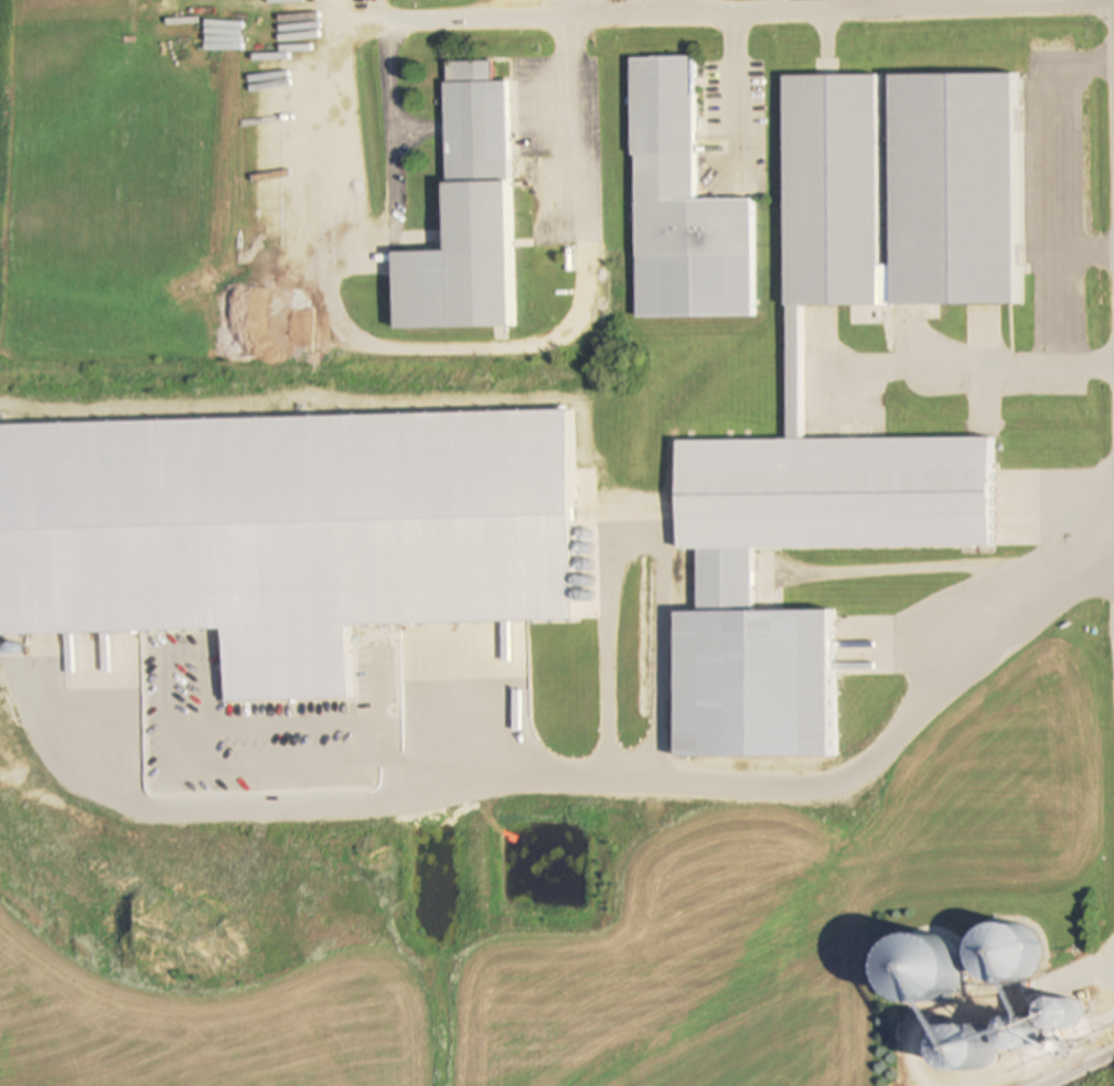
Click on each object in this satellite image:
road: (707, 3)
road: (577, 6)
road: (668, 8)
road: (733, 86)
road: (1071, 153)
building: (682, 208)
building: (463, 214)
road: (1065, 326)
road: (443, 345)
building: (793, 370)
road: (608, 775)
railway: (1065, 1063)
railway: (1076, 1068)

